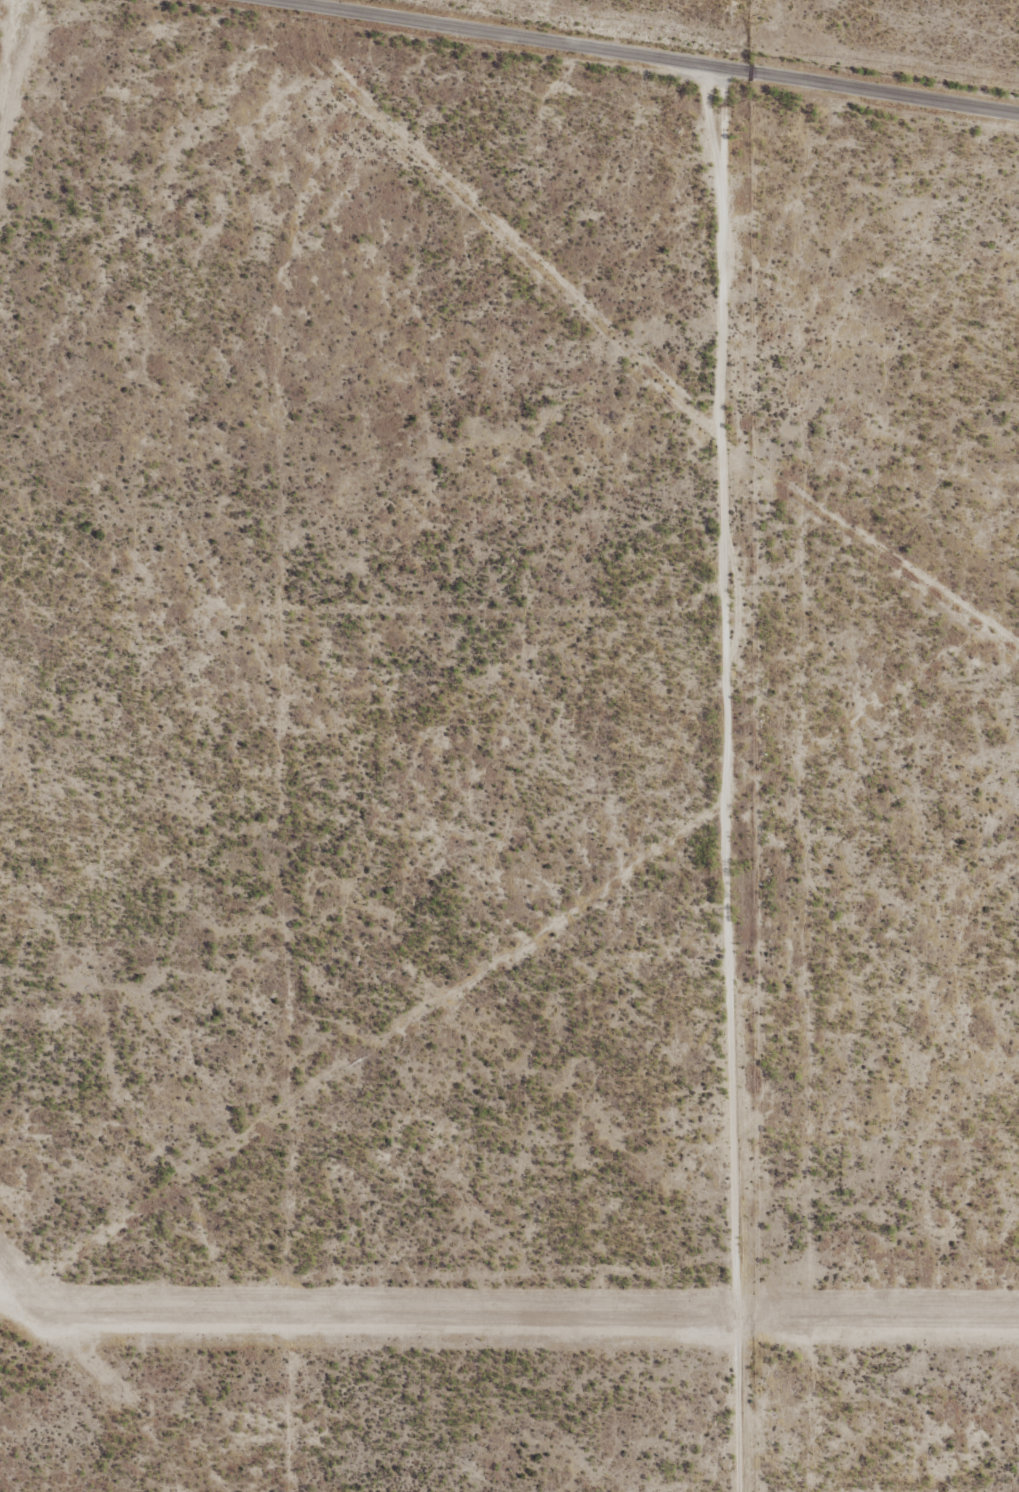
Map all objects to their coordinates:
road: (675, 56)
road: (735, 784)

